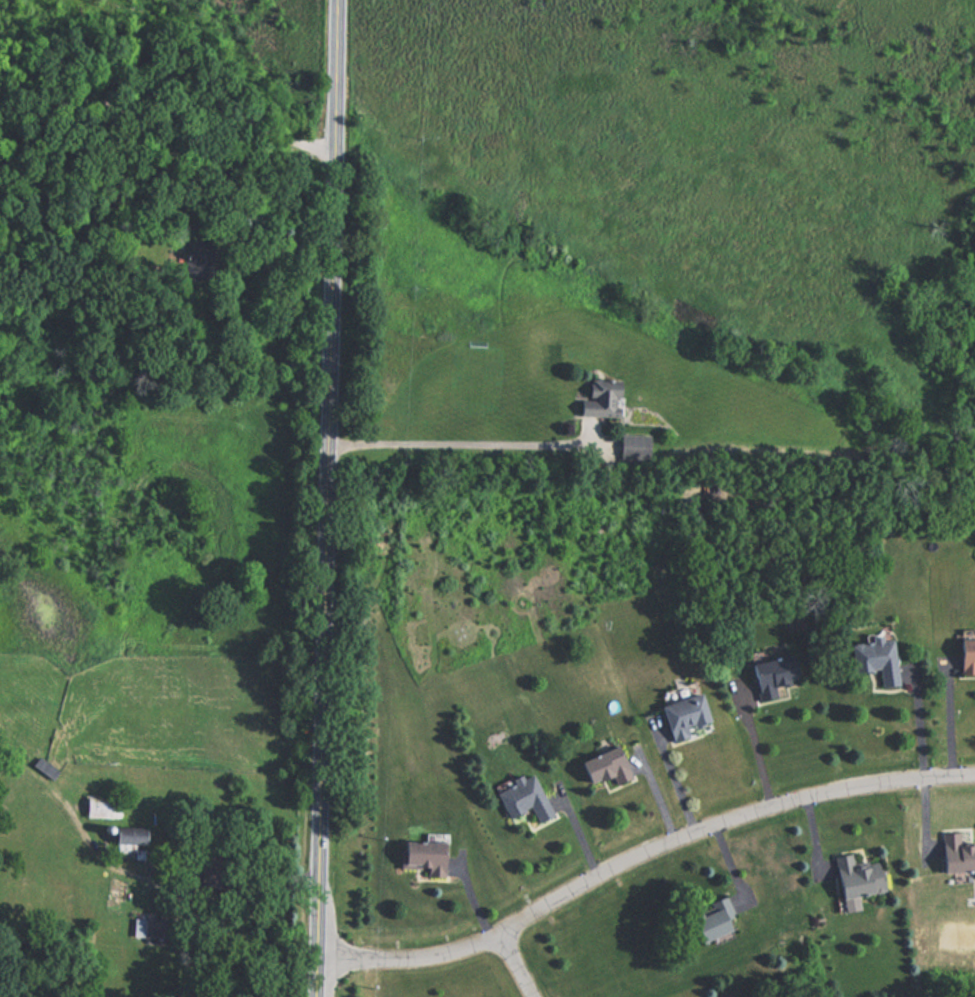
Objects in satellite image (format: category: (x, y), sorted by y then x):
road: (169, 103)
building: (596, 397)
road: (458, 442)
road: (325, 498)
building: (964, 658)
building: (873, 661)
building: (771, 675)
building: (682, 717)
road: (950, 721)
road: (919, 723)
road: (760, 755)
building: (602, 768)
road: (676, 784)
building: (522, 801)
building: (101, 806)
building: (124, 837)
building: (955, 850)
building: (421, 856)
road: (640, 858)
building: (859, 872)
road: (162, 874)
building: (707, 918)
road: (520, 963)

